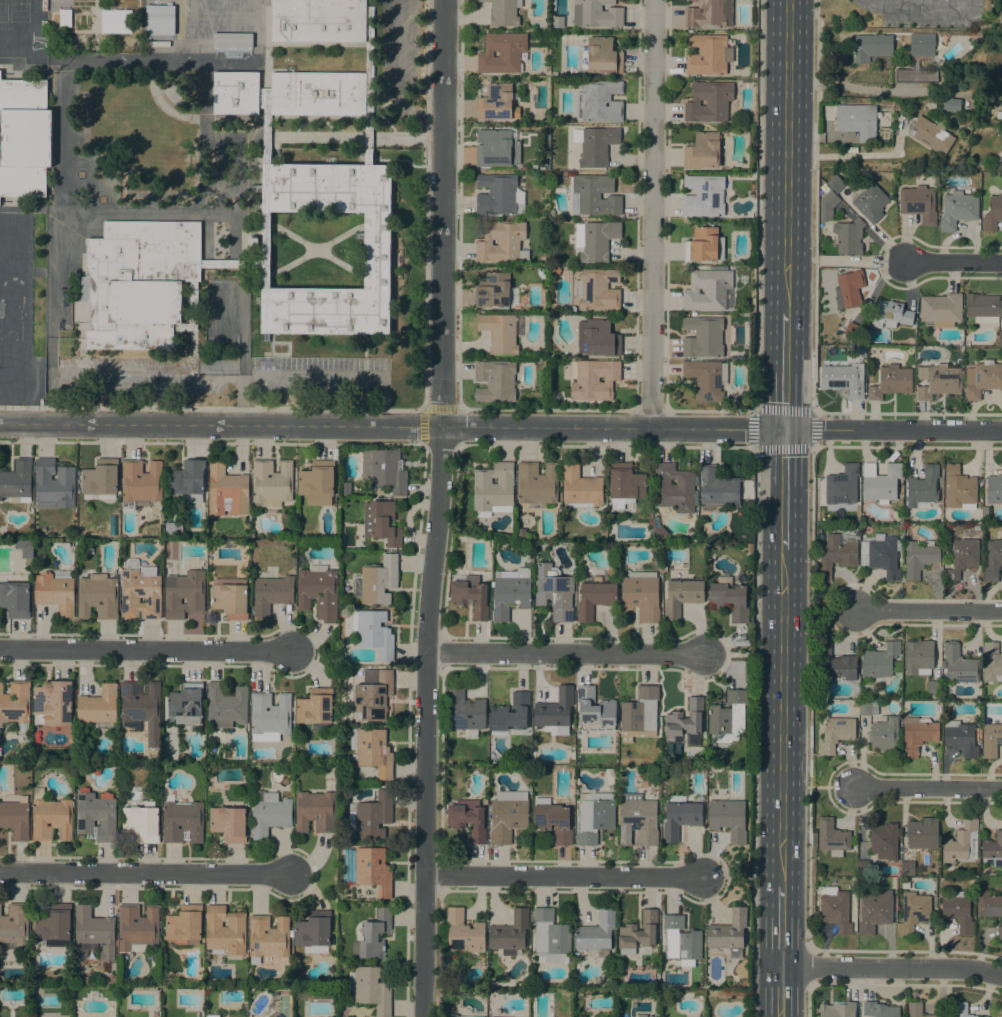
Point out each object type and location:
road: (915, 4)
building: (987, 4)
park: (3, 11)
park: (19, 11)
building: (503, 12)
building: (597, 13)
building: (709, 14)
building: (65, 18)
building: (159, 19)
building: (318, 20)
building: (116, 21)
building: (558, 21)
road: (258, 29)
building: (231, 39)
building: (921, 42)
building: (870, 46)
building: (502, 52)
building: (708, 54)
building: (601, 56)
road: (78, 57)
road: (400, 64)
building: (916, 76)
building: (369, 86)
building: (236, 92)
building: (318, 93)
building: (599, 101)
building: (710, 101)
building: (497, 103)
building: (950, 104)
road: (432, 115)
building: (999, 115)
building: (978, 118)
building: (857, 120)
building: (266, 121)
building: (931, 135)
building: (24, 137)
building: (597, 146)
building: (496, 148)
building: (704, 151)
road: (786, 157)
building: (1001, 161)
building: (835, 184)
building: (822, 185)
building: (497, 195)
building: (594, 195)
building: (704, 196)
building: (869, 200)
building: (919, 203)
road: (757, 205)
road: (814, 206)
building: (827, 206)
building: (958, 209)
road: (79, 213)
road: (651, 213)
building: (992, 213)
building: (848, 237)
building: (597, 240)
building: (502, 242)
building: (253, 243)
building: (704, 245)
building: (162, 248)
building: (377, 250)
building: (266, 254)
road: (859, 260)
road: (953, 261)
building: (743, 278)
building: (597, 289)
building: (707, 289)
building: (849, 289)
building: (493, 290)
building: (94, 291)
building: (145, 302)
building: (941, 308)
building: (984, 308)
building: (190, 311)
building: (890, 314)
building: (851, 330)
building: (499, 333)
building: (706, 337)
building: (597, 338)
building: (1000, 338)
road: (785, 371)
road: (236, 379)
building: (593, 379)
building: (704, 379)
building: (982, 379)
building: (495, 380)
road: (50, 381)
building: (842, 382)
building: (891, 382)
building: (939, 382)
road: (241, 402)
road: (810, 411)
road: (434, 420)
road: (25, 424)
road: (417, 426)
traffic signals: (784, 428)
road: (893, 428)
building: (383, 470)
building: (100, 479)
building: (17, 481)
building: (188, 481)
building: (316, 482)
building: (536, 482)
building: (880, 482)
building: (271, 483)
building: (140, 484)
building: (54, 485)
building: (625, 485)
building: (843, 485)
building: (493, 486)
building: (959, 486)
building: (922, 487)
building: (673, 488)
building: (718, 488)
building: (345, 489)
building: (580, 489)
road: (783, 489)
building: (994, 489)
building: (227, 491)
road: (436, 508)
building: (381, 522)
building: (173, 529)
building: (658, 529)
building: (521, 531)
building: (24, 547)
building: (834, 554)
building: (884, 555)
building: (918, 557)
building: (962, 557)
building: (992, 560)
building: (379, 580)
building: (510, 591)
building: (554, 591)
building: (54, 592)
building: (140, 592)
building: (318, 592)
building: (271, 593)
building: (183, 594)
building: (641, 594)
building: (470, 595)
building: (97, 596)
building: (594, 596)
building: (681, 596)
building: (230, 597)
building: (14, 599)
building: (729, 600)
road: (834, 611)
road: (930, 612)
building: (373, 632)
road: (144, 649)
road: (566, 653)
road: (730, 653)
building: (918, 657)
building: (879, 660)
building: (834, 662)
building: (991, 662)
building: (959, 665)
building: (933, 688)
building: (372, 695)
road: (809, 697)
building: (53, 703)
building: (186, 703)
building: (856, 703)
building: (16, 704)
building: (225, 705)
building: (97, 706)
building: (141, 706)
building: (867, 708)
building: (315, 709)
building: (464, 709)
building: (594, 710)
building: (555, 712)
building: (511, 713)
building: (640, 713)
building: (269, 716)
building: (727, 716)
road: (782, 718)
building: (686, 722)
road: (755, 732)
building: (836, 733)
building: (884, 734)
building: (918, 734)
building: (960, 737)
building: (991, 739)
building: (372, 751)
road: (834, 786)
road: (930, 788)
building: (315, 812)
building: (269, 813)
building: (508, 815)
building: (681, 815)
building: (370, 816)
building: (16, 817)
building: (50, 817)
building: (95, 817)
building: (595, 817)
building: (639, 817)
building: (468, 818)
building: (728, 819)
building: (552, 820)
building: (182, 821)
building: (142, 822)
building: (228, 823)
building: (922, 833)
building: (832, 837)
building: (884, 841)
building: (960, 842)
building: (993, 849)
building: (863, 866)
building: (907, 868)
building: (368, 869)
road: (146, 872)
road: (564, 876)
road: (727, 878)
building: (988, 904)
building: (835, 909)
building: (957, 909)
building: (874, 910)
building: (913, 912)
building: (14, 923)
building: (53, 924)
building: (184, 924)
road: (781, 927)
building: (137, 928)
building: (225, 930)
building: (95, 931)
building: (314, 932)
building: (999, 932)
building: (464, 933)
building: (638, 933)
building: (729, 933)
building: (510, 934)
building: (596, 934)
building: (373, 935)
building: (268, 937)
building: (550, 937)
building: (681, 940)
building: (262, 959)
road: (806, 966)
road: (892, 967)
building: (83, 979)
building: (112, 979)
building: (371, 989)
road: (781, 992)
road: (808, 1000)
building: (879, 1009)
building: (837, 1010)
building: (918, 1010)
building: (961, 1010)
building: (211, 1015)
building: (452, 1015)
building: (640, 1015)
building: (500, 1016)

